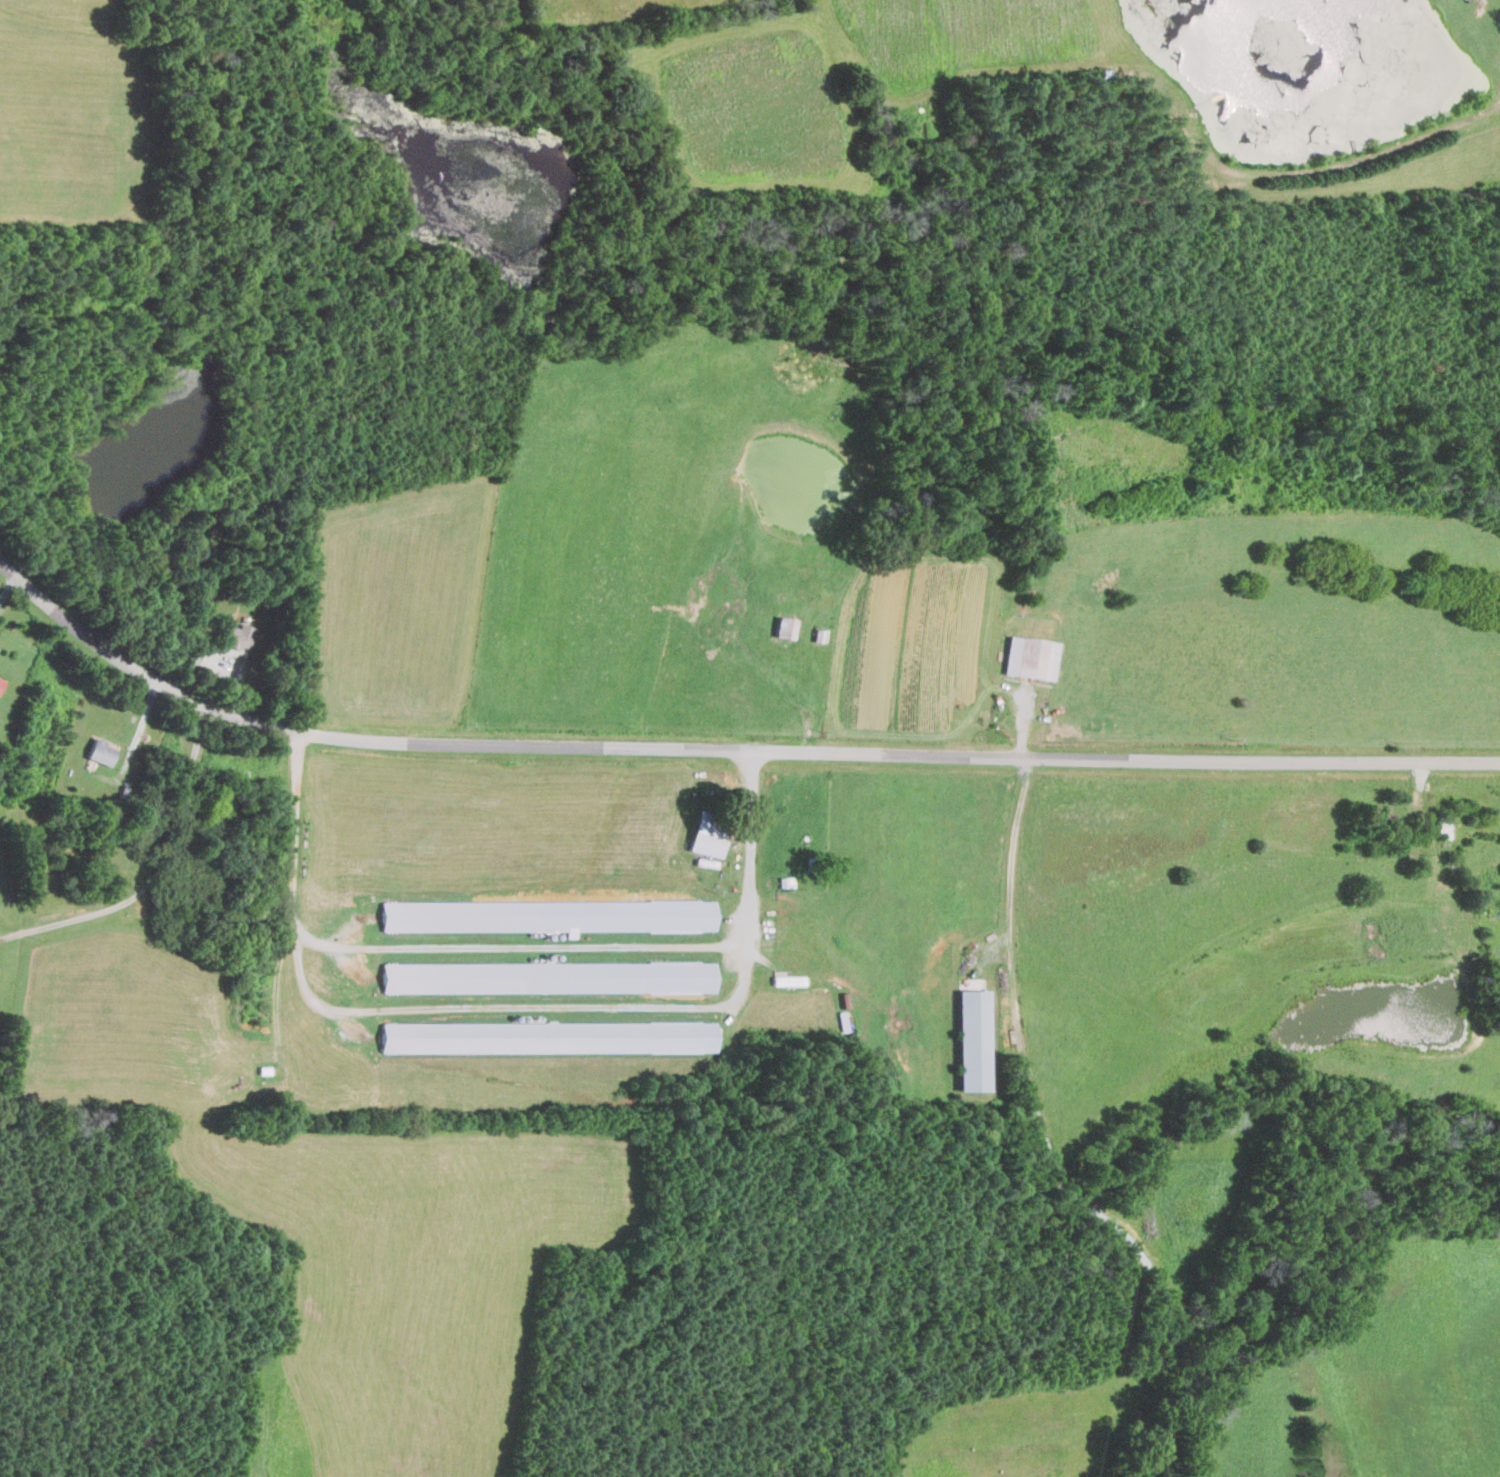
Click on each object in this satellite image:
building: (235, 635)
building: (1031, 657)
building: (1, 682)
building: (101, 752)
road: (726, 752)
road: (183, 784)
building: (710, 834)
road: (1004, 866)
road: (91, 914)
building: (550, 915)
road: (512, 944)
building: (549, 977)
road: (509, 1010)
building: (550, 1036)
building: (975, 1040)

